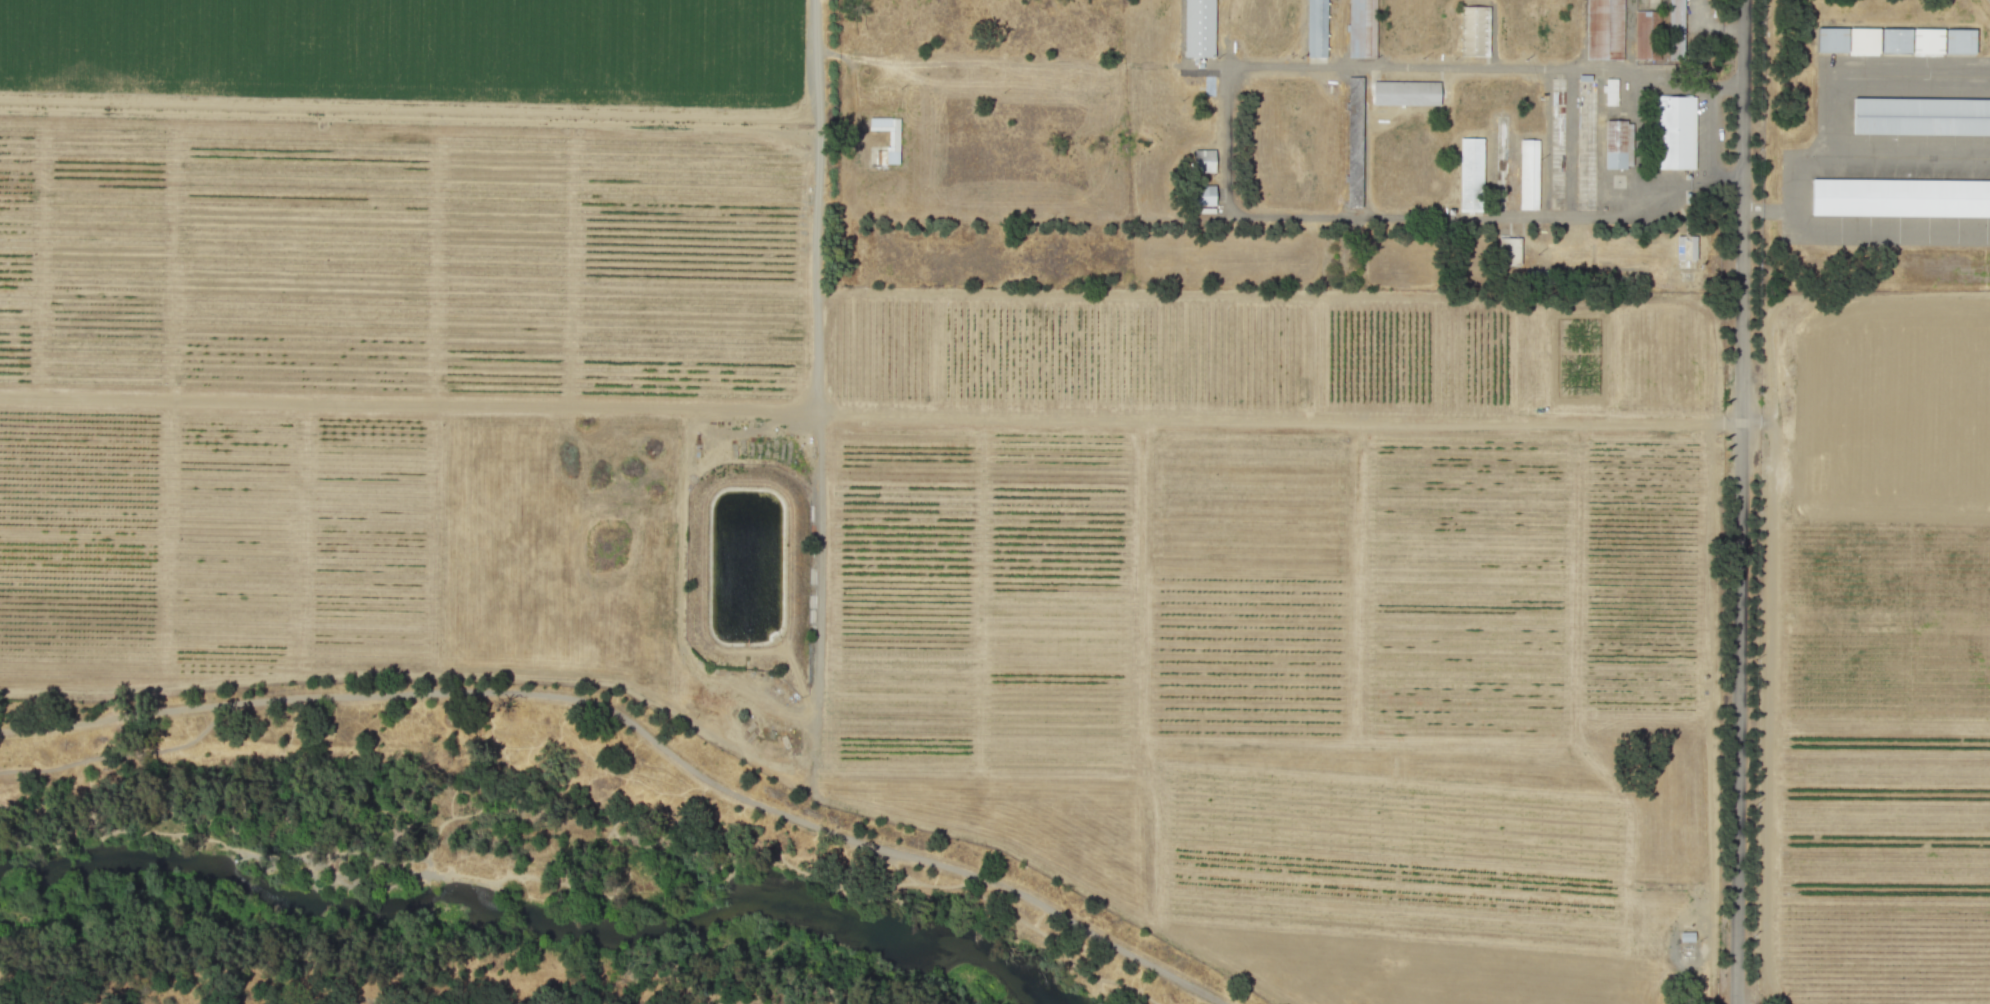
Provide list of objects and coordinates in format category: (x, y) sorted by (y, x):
building: (1358, 24)
building: (1198, 28)
building: (1316, 28)
building: (1604, 29)
building: (1675, 29)
building: (1477, 34)
building: (1646, 34)
building: (1831, 39)
building: (1863, 39)
building: (1895, 40)
building: (1927, 40)
building: (1959, 41)
road: (823, 49)
road: (1417, 67)
building: (1610, 91)
building: (1405, 92)
road: (403, 104)
building: (1921, 116)
road: (404, 117)
airport apron: (1893, 122)
road: (1711, 131)
building: (1677, 133)
building: (894, 136)
road: (1364, 141)
road: (1572, 142)
building: (1617, 144)
airport: (1877, 145)
building: (1203, 160)
building: (1472, 176)
building: (1530, 176)
building: (1204, 195)
building: (1900, 196)
road: (1760, 211)
road: (1490, 217)
building: (1688, 248)
building: (1509, 250)
road: (819, 394)
road: (869, 409)
road: (1739, 501)
road: (678, 560)
road: (420, 674)
road: (1711, 712)
road: (639, 727)
road: (118, 754)
road: (586, 807)
road: (731, 858)
road: (895, 868)
road: (964, 877)
road: (542, 879)
river: (531, 909)

